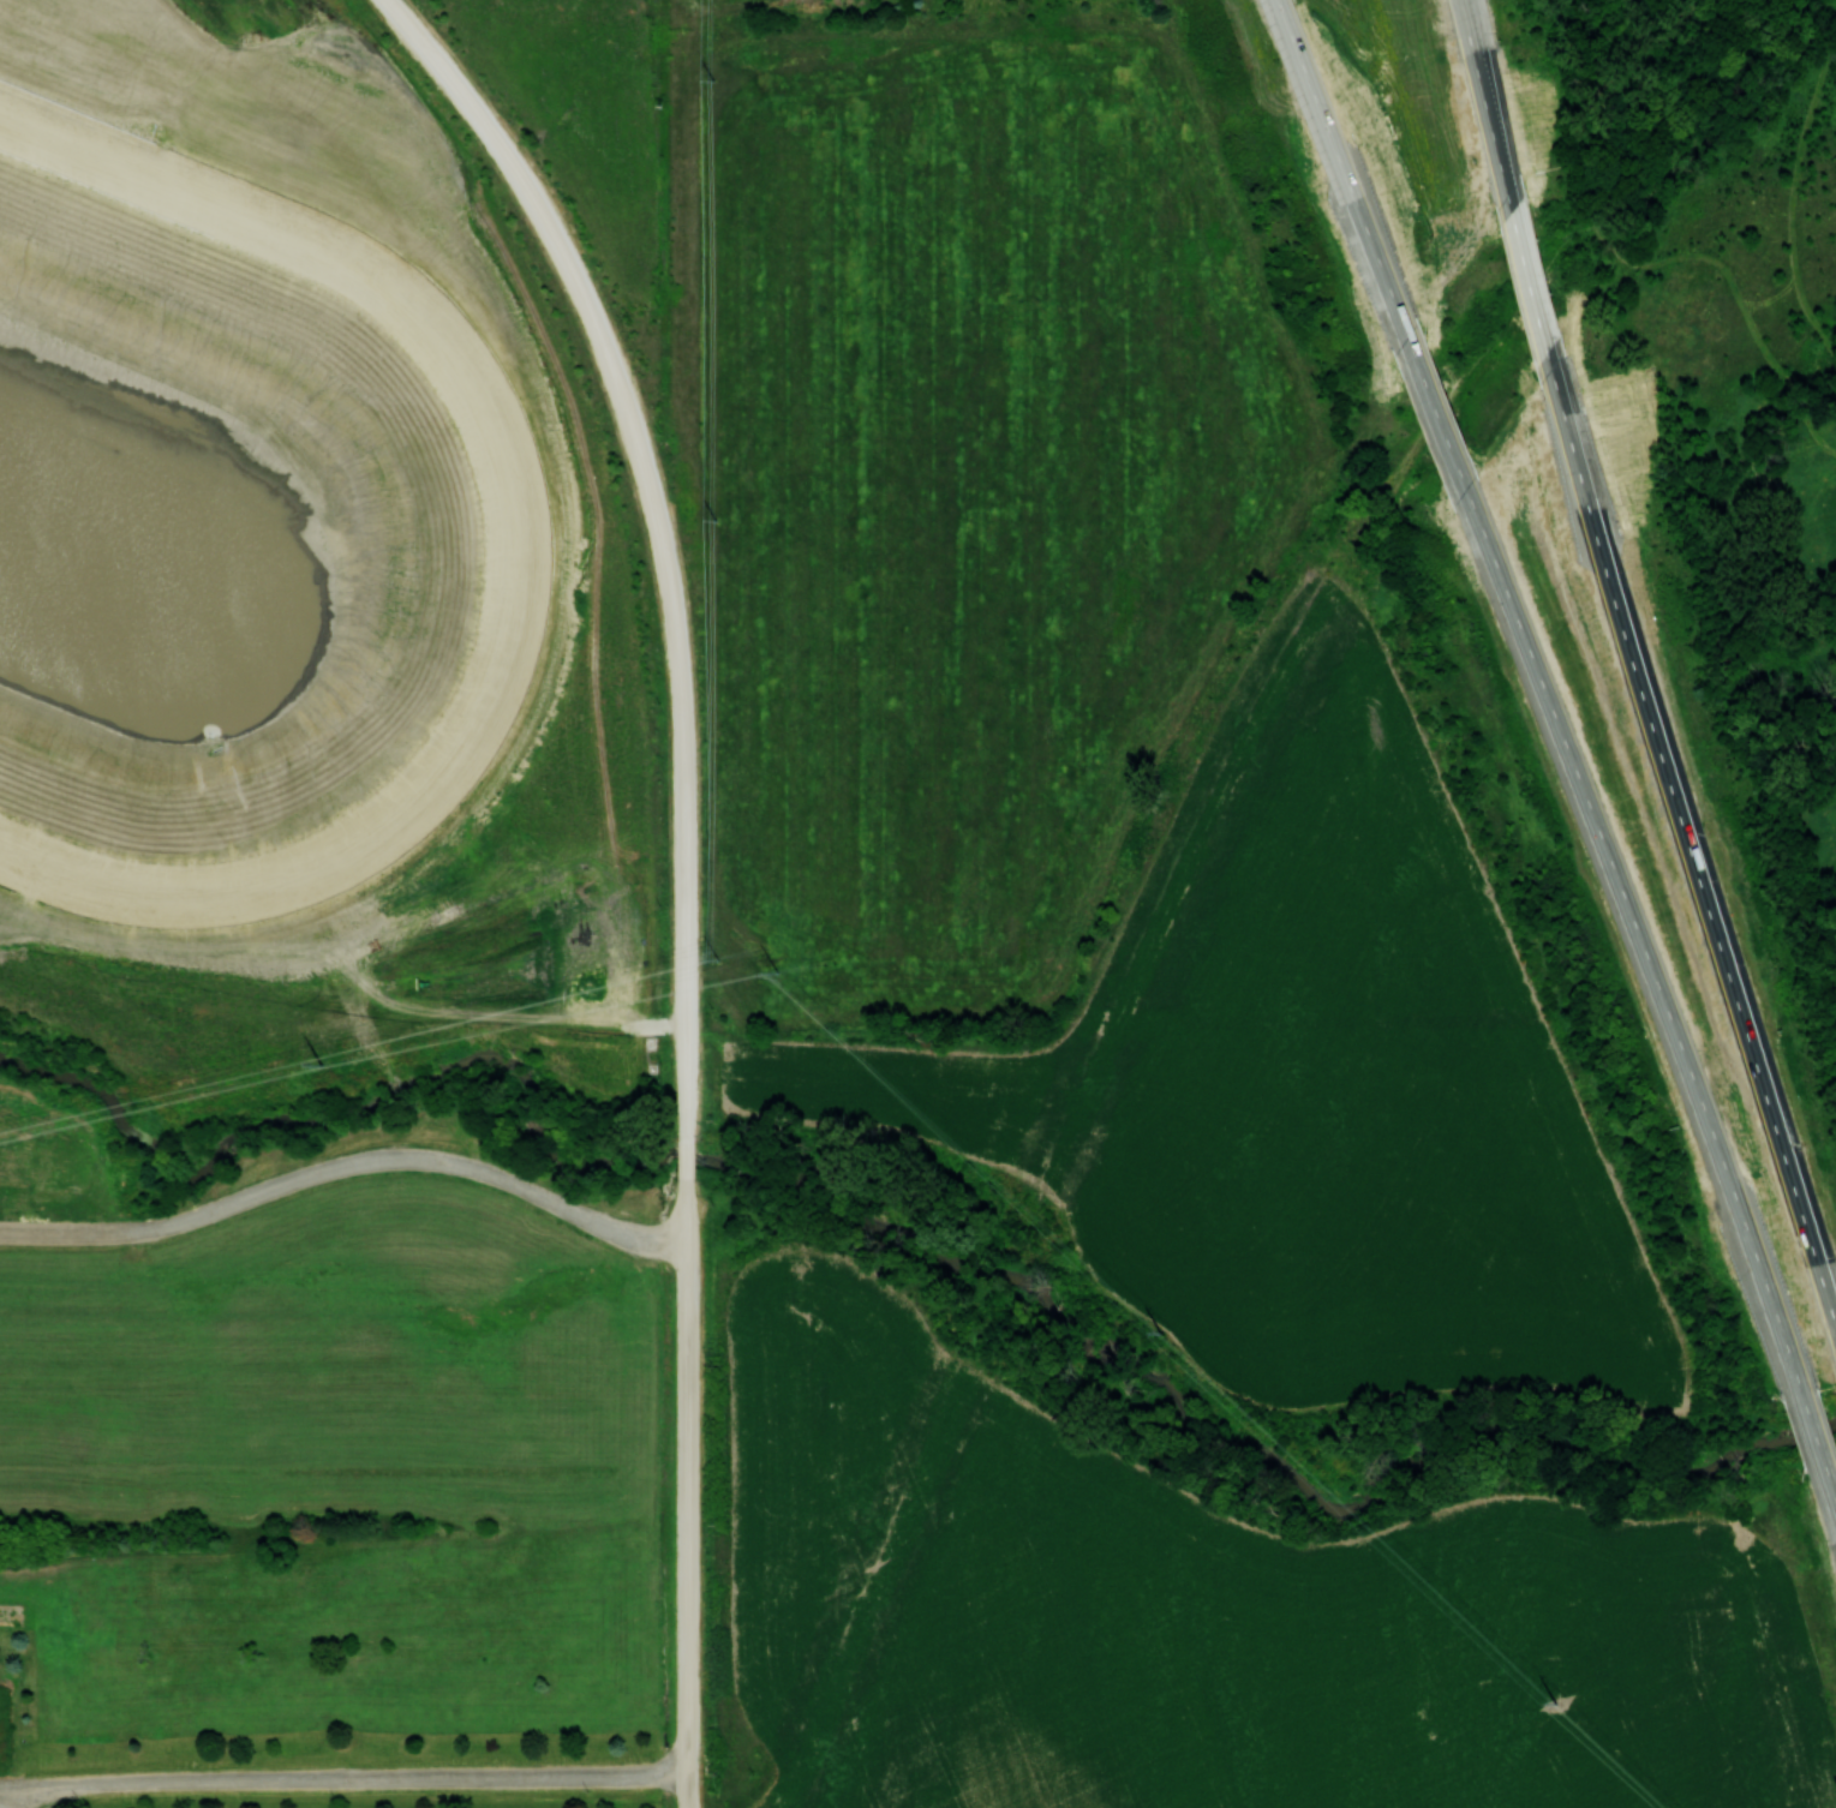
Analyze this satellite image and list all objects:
road: (683, 14)
road: (1477, 58)
road: (1479, 59)
power tower: (712, 78)
road: (1501, 161)
road: (1547, 166)
road: (1341, 175)
road: (1645, 264)
road: (1531, 282)
road: (1431, 409)
park: (1708, 454)
power tower: (714, 521)
road: (660, 532)
track: (300, 533)
road: (1686, 845)
road: (1628, 926)
power tower: (716, 958)
power tower: (778, 971)
power tower: (324, 1066)
road: (684, 1161)
road: (346, 1165)
power tower: (1160, 1331)
road: (1810, 1427)
road: (1829, 1491)
road: (686, 1496)
power tower: (1554, 1704)
road: (343, 1780)

